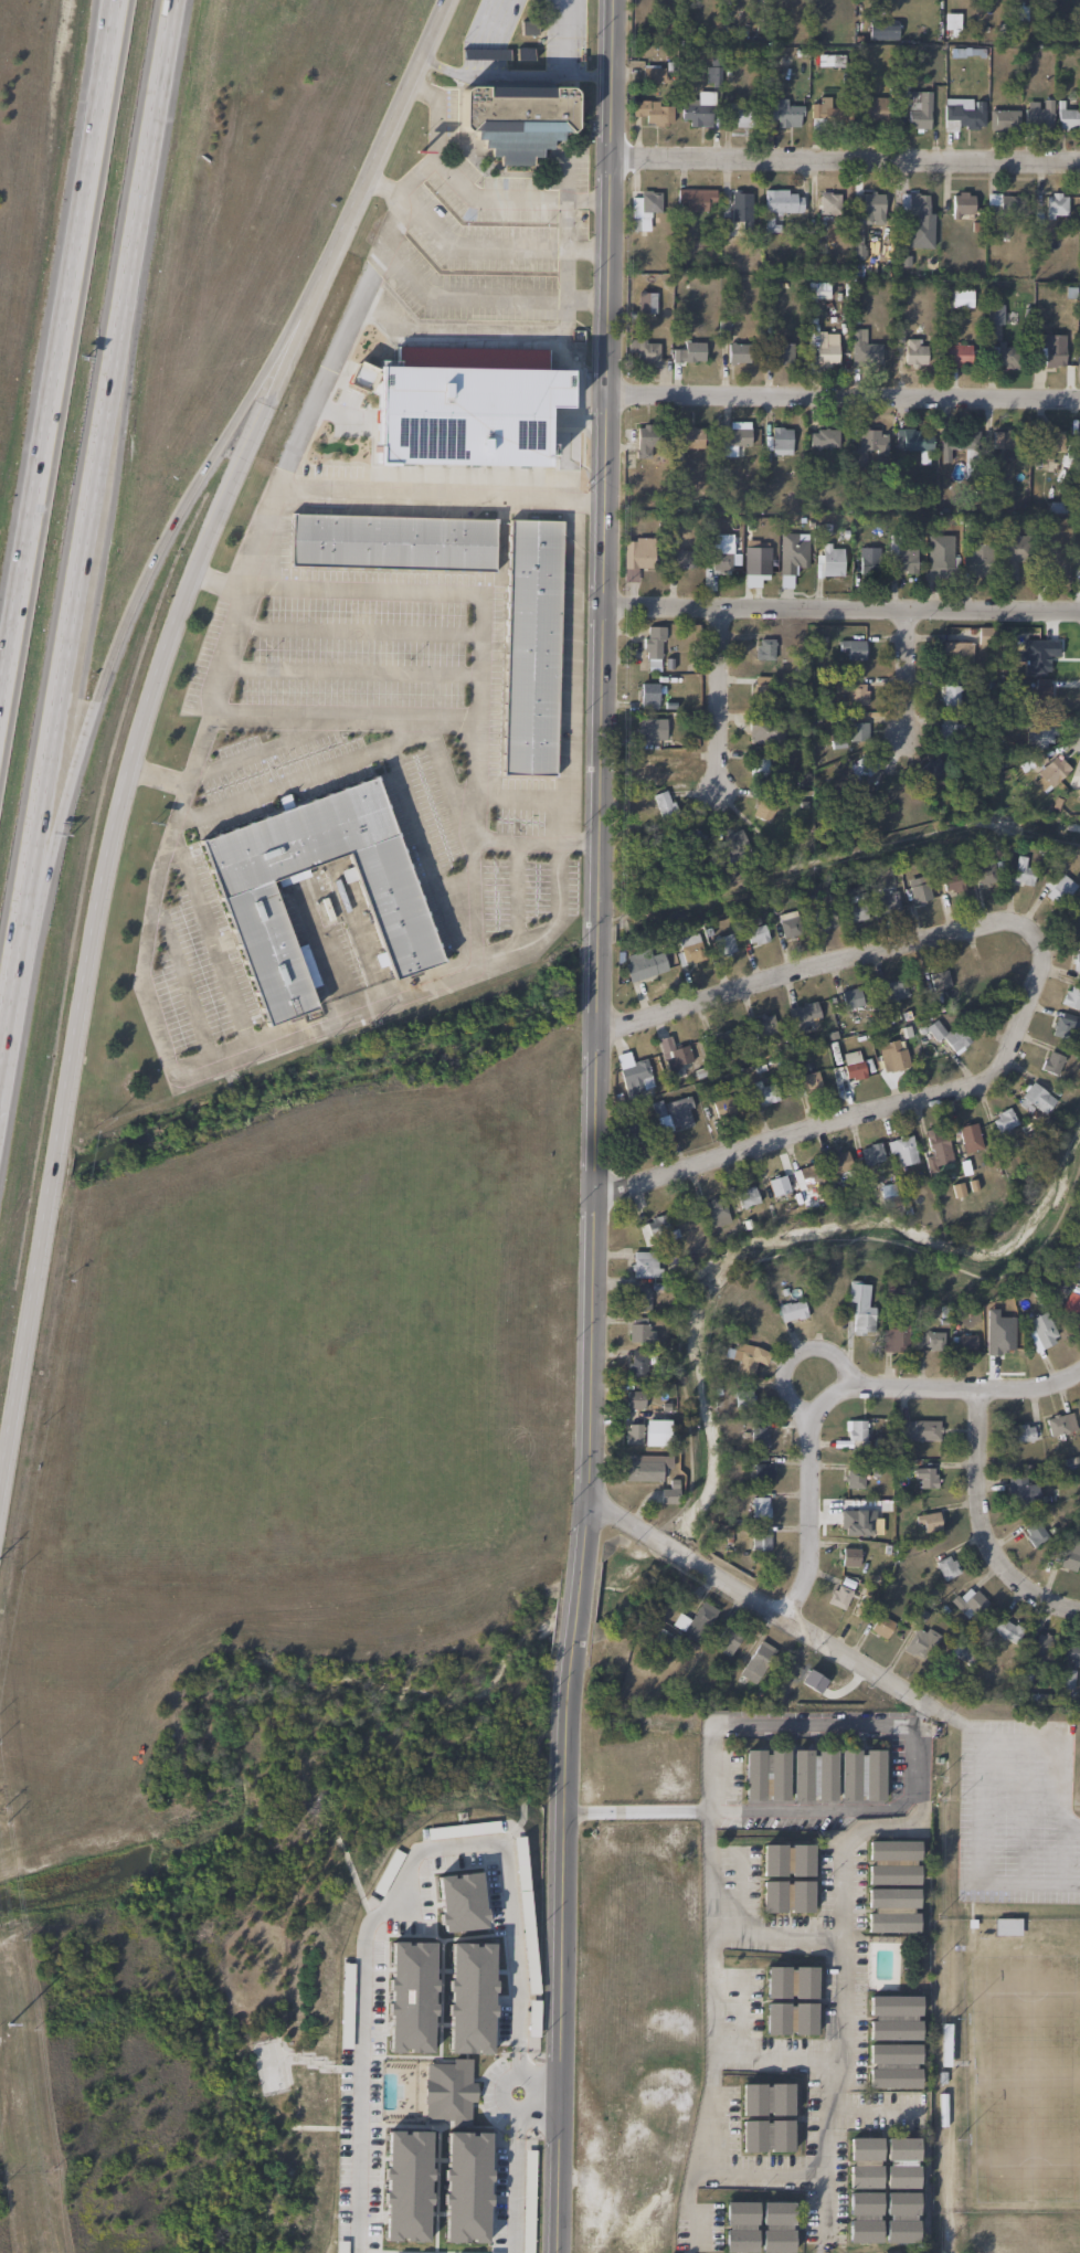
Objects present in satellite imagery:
building: (527, 27)
road: (112, 30)
building: (882, 30)
road: (563, 39)
building: (483, 54)
building: (653, 73)
building: (712, 75)
road: (518, 76)
building: (871, 108)
building: (826, 109)
building: (653, 112)
building: (783, 112)
building: (919, 112)
building: (697, 113)
building: (963, 114)
building: (1039, 115)
building: (741, 116)
building: (516, 118)
building: (1069, 118)
building: (1002, 119)
road: (431, 141)
road: (847, 163)
building: (695, 199)
building: (782, 201)
road: (540, 202)
building: (829, 202)
building: (1056, 202)
building: (913, 203)
building: (871, 204)
building: (962, 204)
building: (1003, 204)
road: (591, 205)
building: (644, 209)
building: (738, 211)
road: (589, 254)
building: (822, 290)
road: (462, 294)
building: (962, 297)
building: (646, 302)
road: (587, 305)
building: (994, 321)
building: (644, 349)
building: (826, 349)
building: (864, 349)
building: (1048, 350)
building: (689, 352)
building: (738, 352)
building: (783, 353)
building: (914, 353)
building: (954, 355)
building: (1002, 357)
road: (53, 374)
road: (845, 395)
building: (456, 417)
road: (106, 430)
building: (738, 436)
building: (691, 437)
building: (823, 437)
building: (959, 438)
building: (780, 440)
building: (1003, 440)
building: (914, 441)
building: (645, 442)
building: (871, 442)
building: (1049, 443)
road: (606, 465)
road: (277, 478)
building: (391, 541)
building: (793, 550)
building: (1014, 551)
road: (243, 553)
building: (637, 554)
building: (939, 556)
building: (755, 557)
building: (900, 557)
building: (684, 559)
building: (832, 559)
building: (975, 559)
building: (721, 560)
building: (867, 560)
building: (1051, 563)
building: (1079, 563)
road: (142, 595)
road: (840, 610)
road: (350, 632)
building: (984, 634)
road: (478, 635)
building: (765, 645)
building: (851, 646)
building: (531, 647)
building: (653, 648)
building: (956, 650)
road: (346, 671)
road: (564, 674)
road: (908, 676)
building: (764, 688)
building: (1041, 690)
building: (857, 692)
building: (951, 694)
building: (648, 695)
road: (717, 699)
road: (341, 719)
road: (147, 721)
building: (680, 728)
building: (952, 728)
building: (652, 729)
building: (858, 730)
building: (765, 732)
building: (1038, 738)
road: (263, 747)
building: (669, 768)
building: (866, 768)
building: (933, 768)
building: (760, 769)
road: (310, 773)
building: (1050, 773)
road: (159, 775)
building: (1079, 782)
road: (448, 785)
building: (763, 810)
road: (426, 855)
road: (847, 857)
building: (985, 872)
building: (1023, 875)
building: (952, 882)
building: (1059, 886)
building: (918, 889)
road: (513, 895)
building: (888, 900)
road: (469, 902)
building: (856, 911)
building: (823, 917)
building: (254, 918)
building: (787, 924)
building: (756, 932)
road: (211, 935)
building: (726, 943)
building: (689, 949)
road: (596, 952)
building: (1076, 964)
building: (645, 965)
road: (19, 972)
road: (805, 974)
building: (939, 979)
road: (183, 982)
building: (896, 990)
building: (1070, 996)
building: (851, 997)
building: (803, 1016)
building: (765, 1027)
building: (1066, 1027)
building: (947, 1037)
building: (720, 1043)
building: (673, 1055)
building: (890, 1055)
building: (1053, 1062)
building: (853, 1065)
road: (183, 1070)
building: (633, 1072)
building: (806, 1082)
building: (765, 1093)
building: (1034, 1099)
building: (723, 1106)
road: (877, 1112)
building: (674, 1113)
building: (1003, 1120)
building: (632, 1133)
building: (968, 1136)
building: (901, 1150)
building: (936, 1150)
building: (871, 1153)
building: (840, 1162)
building: (808, 1176)
building: (777, 1185)
building: (747, 1197)
building: (714, 1212)
building: (654, 1229)
road: (920, 1254)
building: (644, 1265)
building: (1073, 1266)
building: (640, 1299)
building: (1071, 1303)
building: (792, 1310)
building: (860, 1310)
building: (639, 1330)
building: (1041, 1331)
building: (896, 1336)
building: (927, 1341)
building: (966, 1343)
road: (793, 1355)
building: (745, 1356)
building: (638, 1364)
road: (841, 1390)
building: (635, 1399)
building: (743, 1399)
building: (1078, 1409)
building: (1059, 1422)
building: (917, 1429)
building: (656, 1431)
building: (855, 1431)
building: (1023, 1431)
building: (633, 1434)
building: (759, 1437)
building: (645, 1467)
building: (761, 1471)
building: (854, 1479)
building: (924, 1479)
building: (1019, 1489)
building: (669, 1492)
building: (760, 1506)
building: (928, 1521)
road: (984, 1526)
building: (1035, 1533)
building: (760, 1541)
building: (1070, 1554)
building: (849, 1556)
building: (946, 1566)
building: (840, 1593)
building: (970, 1601)
road: (771, 1605)
road: (580, 1612)
building: (695, 1621)
building: (1007, 1630)
building: (727, 1640)
building: (920, 1643)
building: (1040, 1649)
building: (1070, 1652)
building: (962, 1653)
building: (756, 1661)
road: (726, 1727)
road: (962, 1727)
road: (1065, 1747)
building: (765, 1774)
building: (814, 1774)
building: (860, 1774)
road: (982, 1810)
road: (1023, 1810)
road: (636, 1811)
parking lot: (1016, 1813)
road: (453, 1847)
road: (1063, 1854)
building: (786, 1860)
building: (892, 1862)
road: (1030, 1882)
building: (786, 1896)
road: (840, 1917)
building: (1006, 1926)
road: (775, 1939)
power tower: (0, 1967)
building: (790, 1981)
park: (1013, 1995)
building: (892, 2017)
building: (790, 2018)
road: (822, 2062)
building: (892, 2065)
park: (1024, 2076)
road: (537, 2092)
building: (765, 2098)
road: (868, 2117)
building: (766, 2135)
building: (865, 2162)
building: (900, 2162)
road: (747, 2172)
road: (946, 2193)
building: (864, 2217)
building: (900, 2217)

